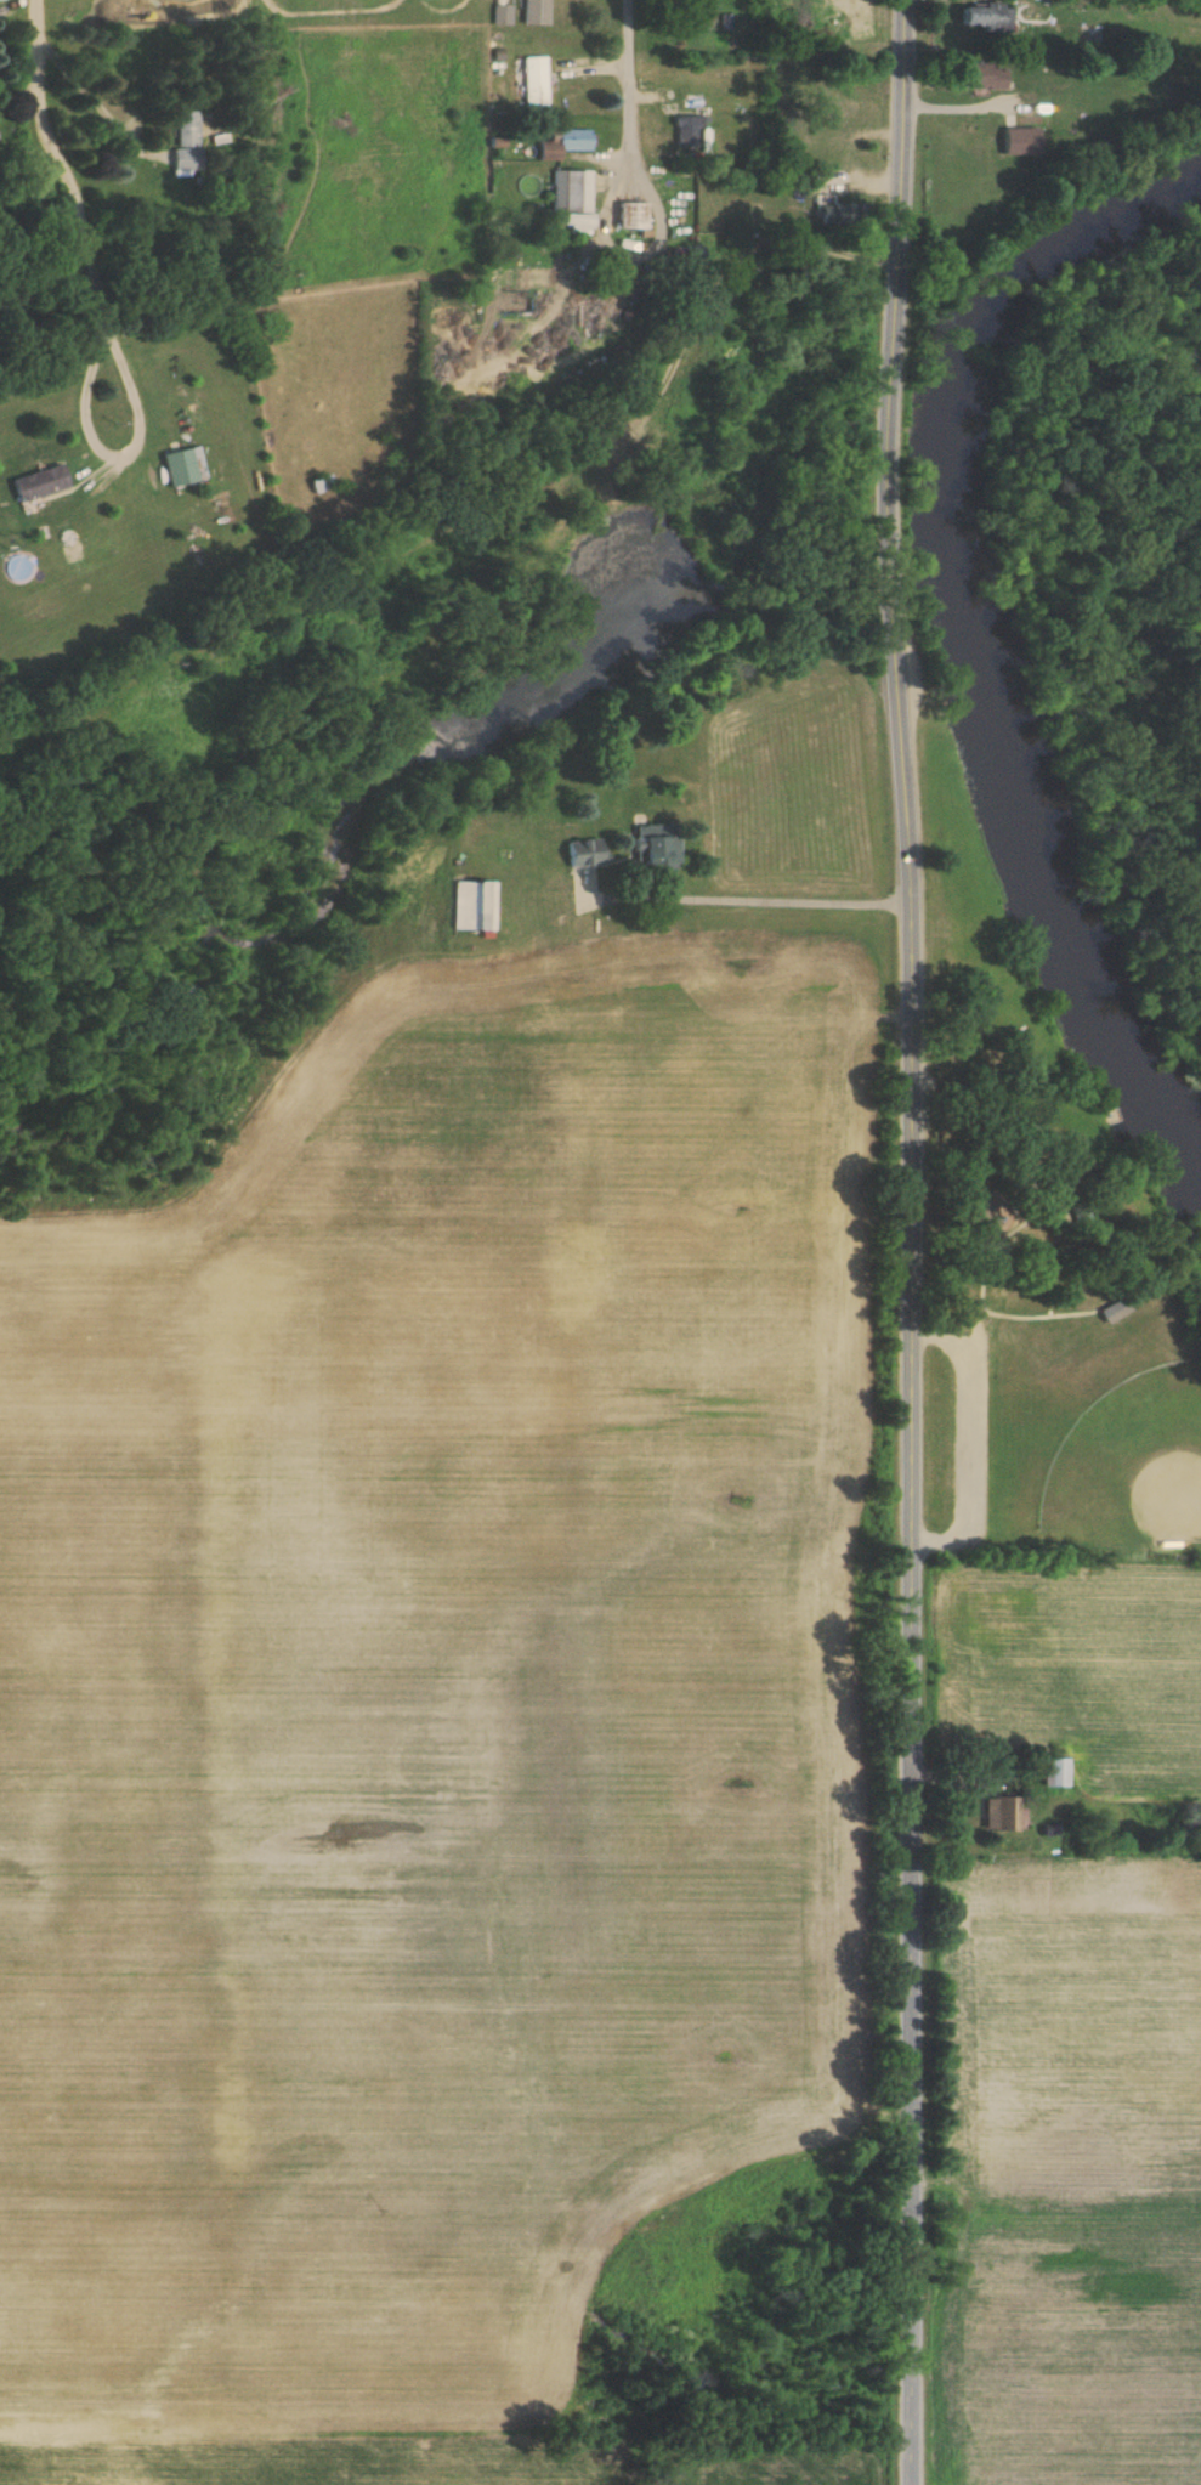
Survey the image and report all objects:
building: (536, 11)
building: (502, 15)
building: (843, 17)
building: (985, 17)
building: (981, 74)
road: (631, 77)
building: (533, 80)
road: (98, 86)
building: (695, 98)
building: (842, 109)
building: (686, 129)
building: (186, 140)
building: (1015, 140)
building: (561, 142)
building: (788, 142)
road: (61, 168)
building: (832, 183)
building: (576, 188)
building: (833, 210)
building: (630, 214)
building: (693, 251)
road: (631, 253)
road: (120, 455)
building: (183, 466)
building: (39, 482)
building: (325, 482)
river: (992, 632)
road: (884, 685)
building: (647, 848)
building: (580, 851)
road: (783, 894)
building: (470, 905)
building: (556, 968)
road: (916, 1241)
park: (1036, 1242)
building: (1115, 1308)
road: (978, 1440)
building: (1048, 1771)
building: (999, 1812)

